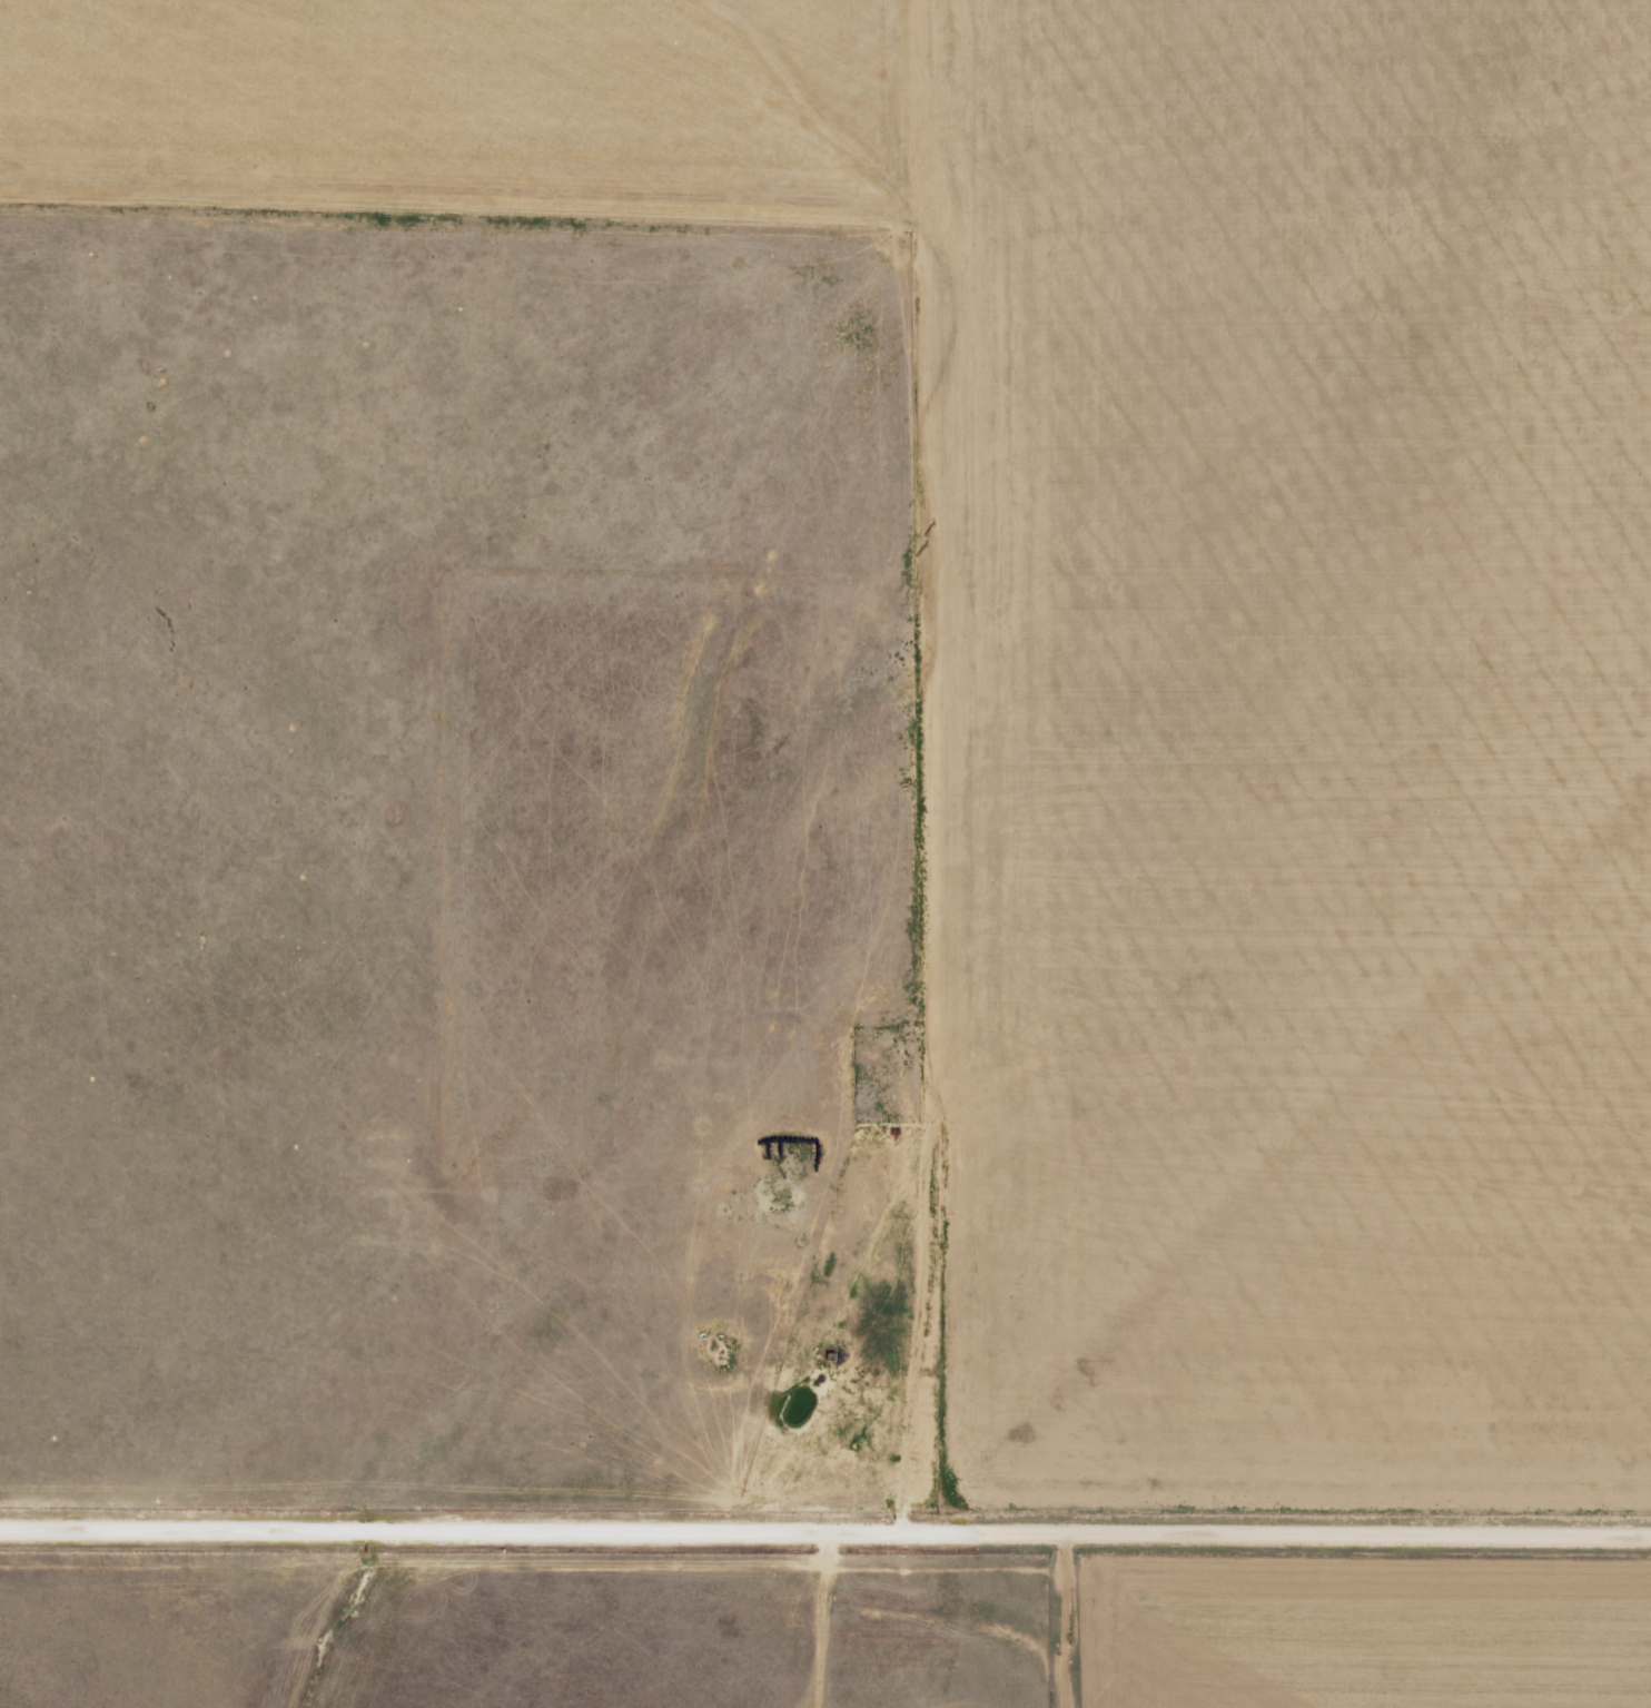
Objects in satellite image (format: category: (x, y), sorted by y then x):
road: (824, 1531)
road: (1065, 1620)

